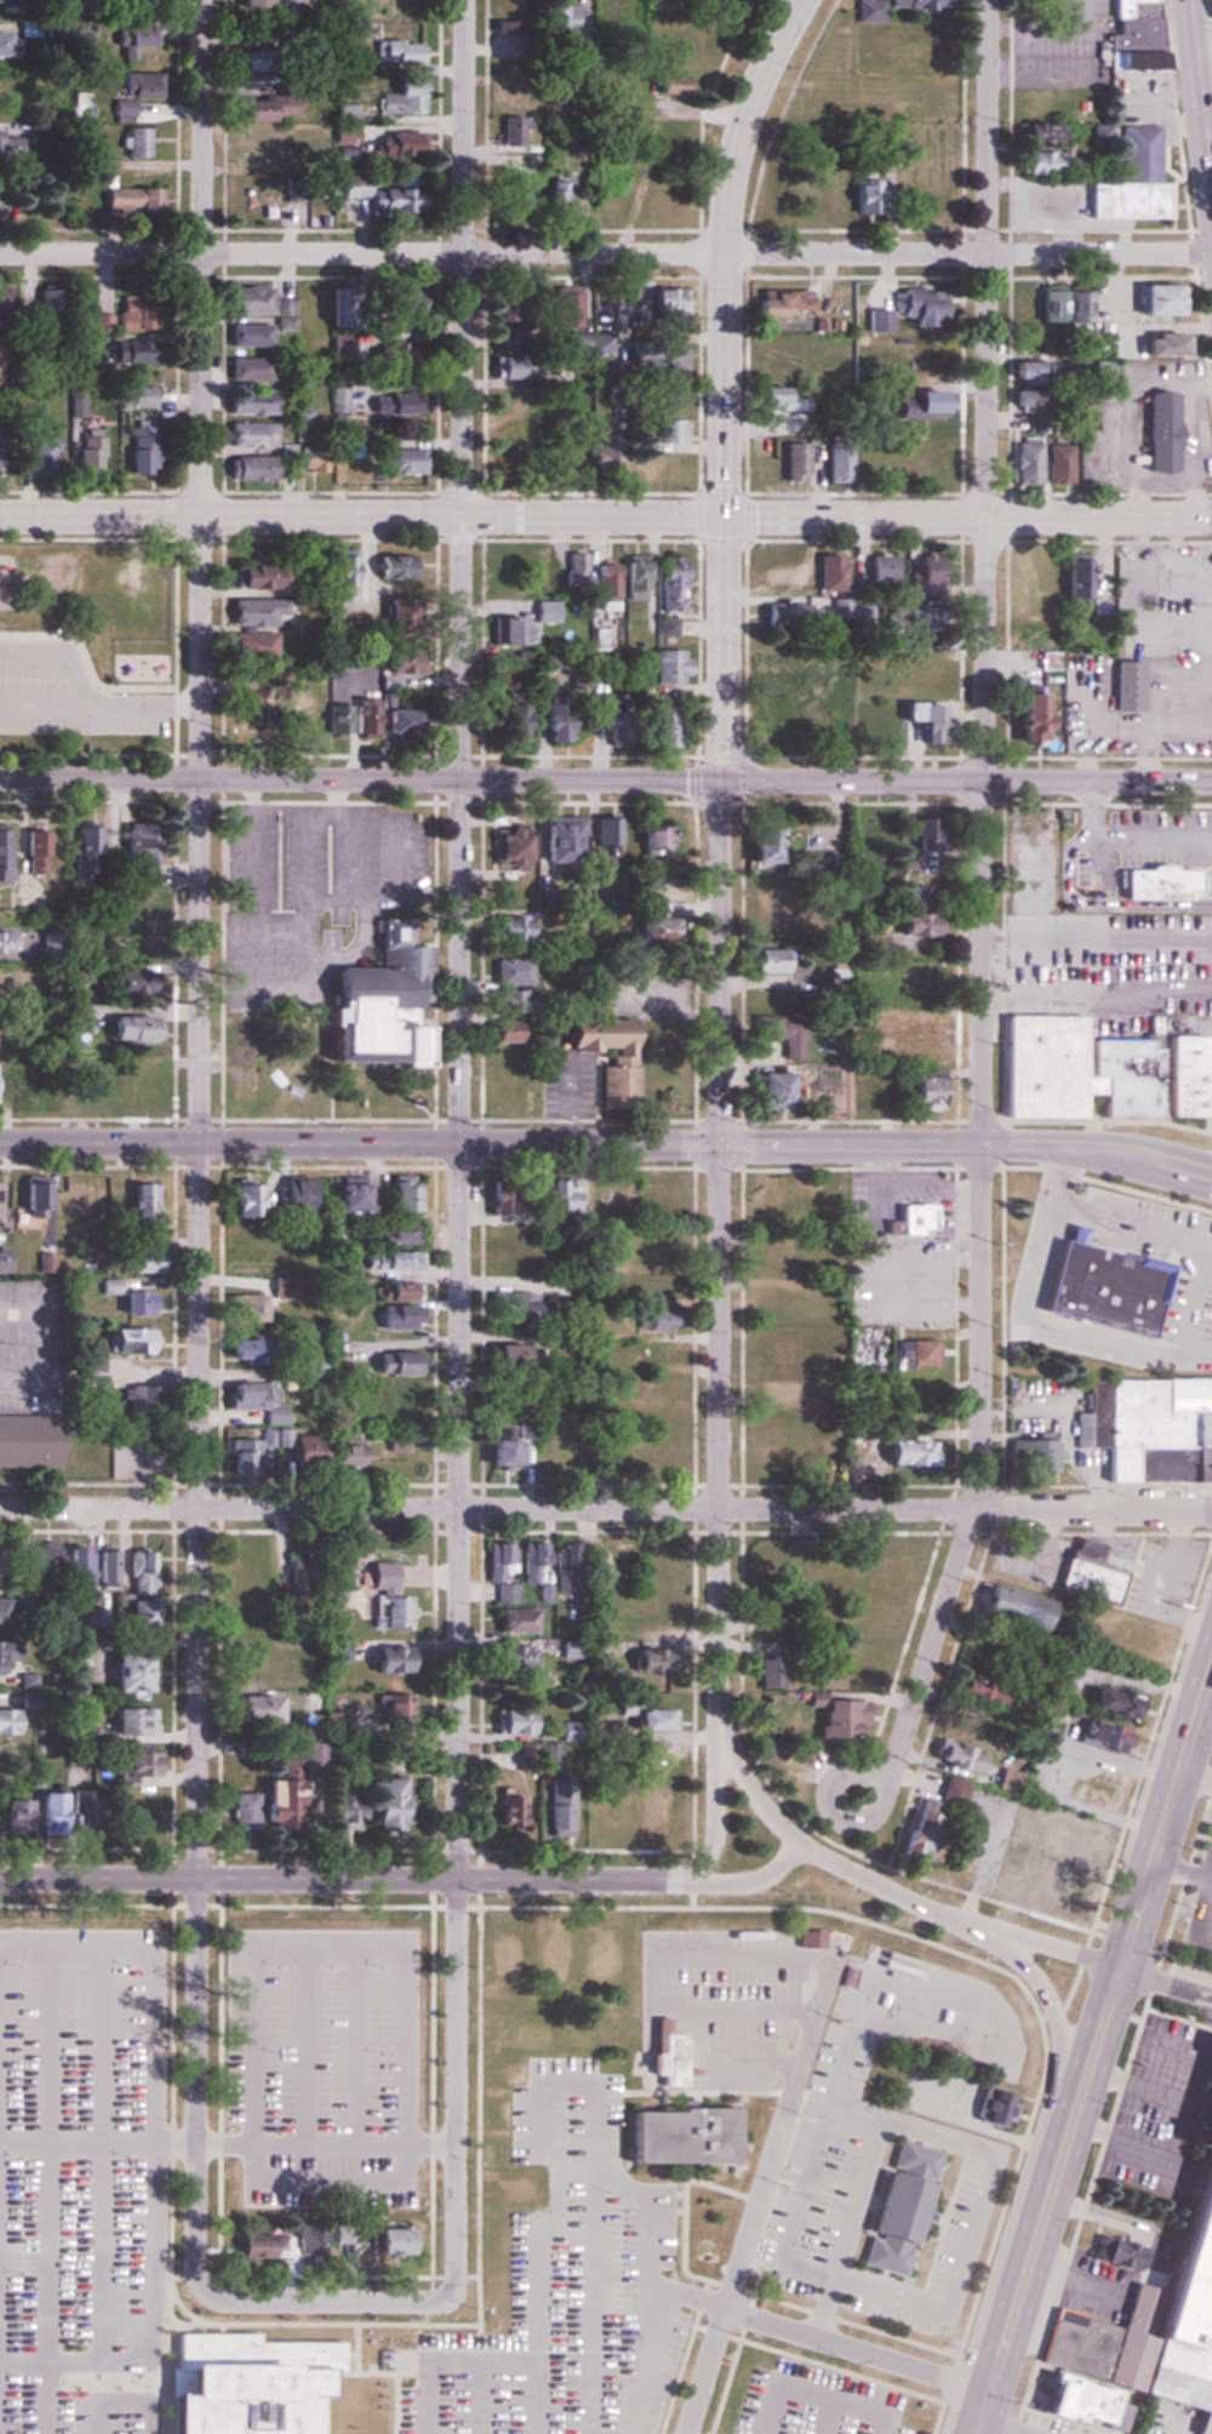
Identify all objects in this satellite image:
building: (7, 1)
building: (128, 2)
building: (1029, 2)
building: (251, 4)
building: (396, 4)
building: (341, 6)
building: (887, 7)
building: (1208, 10)
building: (558, 21)
building: (1132, 34)
building: (510, 39)
building: (131, 41)
building: (4, 46)
building: (908, 50)
building: (398, 52)
building: (669, 84)
building: (6, 87)
building: (136, 90)
building: (401, 98)
road: (1199, 98)
building: (521, 102)
building: (1031, 103)
building: (265, 108)
building: (514, 133)
building: (1039, 133)
building: (344, 135)
building: (133, 142)
building: (8, 147)
building: (394, 148)
building: (1137, 150)
building: (1037, 161)
building: (927, 189)
building: (560, 192)
building: (821, 192)
building: (513, 194)
building: (868, 195)
building: (385, 196)
building: (776, 199)
building: (4, 200)
building: (150, 200)
building: (1127, 200)
building: (118, 201)
road: (724, 251)
road: (606, 253)
building: (0, 297)
building: (1159, 298)
building: (248, 299)
building: (1024, 301)
building: (781, 302)
building: (1064, 303)
building: (308, 304)
building: (665, 304)
building: (917, 305)
building: (395, 307)
building: (567, 308)
building: (46, 309)
building: (502, 309)
building: (876, 320)
building: (102, 322)
building: (248, 335)
building: (1157, 343)
building: (781, 344)
building: (1029, 345)
building: (924, 350)
building: (128, 353)
building: (654, 353)
building: (390, 355)
building: (0, 368)
building: (248, 368)
building: (507, 371)
building: (1025, 383)
building: (141, 396)
building: (657, 396)
building: (779, 398)
building: (505, 399)
building: (247, 402)
building: (391, 402)
building: (914, 405)
building: (302, 410)
building: (667, 432)
building: (1157, 432)
building: (248, 435)
building: (524, 444)
building: (143, 448)
building: (86, 451)
building: (604, 456)
building: (310, 458)
building: (35, 459)
building: (1023, 461)
building: (355, 462)
building: (402, 462)
building: (793, 462)
building: (922, 462)
building: (1054, 463)
building: (837, 464)
building: (656, 465)
building: (247, 469)
building: (549, 472)
road: (362, 516)
road: (970, 519)
building: (539, 564)
building: (390, 566)
building: (574, 568)
building: (882, 568)
building: (344, 571)
building: (779, 573)
building: (828, 573)
building: (255, 576)
building: (924, 576)
building: (1068, 577)
building: (635, 578)
building: (1031, 578)
building: (607, 584)
building: (669, 584)
building: (1100, 604)
building: (782, 611)
building: (253, 612)
building: (907, 622)
building: (665, 628)
building: (514, 634)
building: (250, 645)
road: (724, 652)
building: (669, 665)
building: (905, 673)
building: (1125, 685)
road: (84, 698)
building: (365, 716)
building: (1027, 716)
building: (395, 718)
building: (554, 718)
building: (337, 720)
building: (830, 720)
building: (921, 720)
building: (307, 721)
building: (518, 726)
building: (664, 726)
building: (776, 731)
road: (360, 781)
road: (966, 785)
building: (608, 838)
building: (558, 840)
building: (652, 840)
building: (926, 841)
building: (759, 842)
building: (38, 846)
building: (86, 846)
building: (135, 847)
building: (508, 847)
building: (4, 856)
building: (1156, 882)
road: (974, 892)
building: (658, 896)
building: (914, 897)
building: (915, 925)
building: (508, 930)
building: (651, 931)
building: (120, 935)
building: (8, 943)
building: (877, 945)
building: (46, 949)
building: (772, 962)
road: (720, 966)
building: (513, 971)
building: (915, 983)
building: (132, 984)
building: (11, 985)
building: (773, 1000)
building: (377, 1009)
building: (508, 1016)
building: (76, 1019)
building: (128, 1029)
building: (779, 1033)
building: (916, 1034)
building: (621, 1063)
building: (1094, 1072)
building: (238, 1084)
building: (766, 1090)
building: (840, 1090)
building: (288, 1091)
building: (502, 1092)
building: (921, 1093)
road: (360, 1144)
road: (967, 1145)
road: (199, 1152)
road: (461, 1152)
building: (347, 1193)
building: (398, 1194)
building: (80, 1198)
building: (556, 1198)
building: (661, 1198)
building: (822, 1198)
building: (29, 1199)
building: (292, 1199)
building: (245, 1200)
building: (142, 1209)
road: (1105, 1213)
building: (919, 1219)
building: (396, 1235)
building: (521, 1253)
building: (393, 1261)
road: (1036, 1261)
building: (139, 1262)
building: (0, 1263)
building: (248, 1263)
building: (1100, 1286)
building: (388, 1292)
road: (1191, 1296)
building: (133, 1303)
building: (510, 1307)
building: (245, 1308)
building: (656, 1320)
building: (122, 1341)
building: (777, 1345)
road: (1119, 1345)
building: (247, 1349)
building: (919, 1352)
building: (502, 1354)
building: (394, 1364)
building: (314, 1366)
building: (651, 1388)
building: (250, 1394)
road: (720, 1417)
building: (399, 1418)
building: (1148, 1427)
building: (22, 1445)
building: (499, 1445)
building: (304, 1449)
building: (907, 1450)
building: (1028, 1452)
building: (241, 1453)
building: (349, 1455)
building: (85, 1459)
building: (755, 1459)
road: (606, 1509)
building: (760, 1555)
building: (78, 1562)
building: (528, 1565)
building: (36, 1566)
building: (104, 1567)
building: (612, 1567)
building: (136, 1569)
building: (502, 1571)
building: (561, 1571)
building: (245, 1572)
building: (661, 1572)
building: (1087, 1572)
building: (299, 1576)
building: (342, 1599)
building: (875, 1601)
building: (1014, 1607)
building: (0, 1612)
building: (391, 1612)
building: (135, 1615)
building: (514, 1621)
building: (647, 1622)
building: (571, 1649)
building: (2, 1657)
building: (387, 1658)
building: (507, 1658)
building: (263, 1661)
building: (646, 1661)
building: (850, 1664)
building: (770, 1672)
building: (126, 1673)
building: (977, 1690)
building: (1110, 1702)
building: (253, 1707)
building: (395, 1713)
building: (646, 1714)
building: (827, 1714)
building: (128, 1720)
building: (8, 1721)
building: (513, 1721)
building: (570, 1731)
building: (1100, 1737)
building: (961, 1756)
building: (526, 1758)
building: (133, 1762)
road: (747, 1773)
building: (1006, 1779)
road: (715, 1790)
building: (1091, 1792)
building: (950, 1794)
building: (132, 1802)
building: (385, 1804)
building: (647, 1804)
building: (264, 1805)
building: (558, 1807)
building: (508, 1810)
building: (45, 1811)
road: (830, 1811)
building: (342, 1813)
building: (12, 1816)
building: (607, 1817)
road: (1165, 1819)
building: (916, 1829)
building: (1079, 1840)
road: (341, 1880)
road: (748, 1880)
road: (881, 1882)
building: (5, 1935)
building: (335, 1937)
building: (401, 1937)
building: (296, 1938)
building: (807, 1938)
building: (78, 1943)
road: (1039, 1944)
building: (497, 1947)
building: (39, 1949)
building: (604, 1960)
road: (653, 1972)
road: (909, 1976)
road: (1165, 1984)
parking lot: (728, 1998)
road: (1053, 2013)
building: (661, 2058)
road: (1091, 2059)
road: (755, 2064)
building: (993, 2109)
building: (333, 2114)
building: (384, 2121)
road: (782, 2121)
road: (541, 2122)
road: (854, 2125)
road: (1177, 2130)
building: (686, 2135)
road: (965, 2143)
parking lot: (892, 2152)
building: (258, 2154)
building: (513, 2189)
road: (122, 2199)
building: (884, 2200)
road: (651, 2215)
building: (307, 2240)
building: (389, 2240)
road: (22, 2245)
road: (70, 2245)
building: (259, 2245)
road: (789, 2246)
building: (1114, 2255)
road: (1074, 2281)
road: (1019, 2291)
road: (325, 2303)
parking lot: (530, 2303)
building: (1157, 2303)
parking lot: (115, 2329)
road: (653, 2330)
road: (44, 2338)
road: (857, 2350)
road: (142, 2361)
road: (353, 2361)
road: (705, 2371)
road: (814, 2396)
road: (201, 2398)
road: (255, 2398)
road: (307, 2398)
road: (364, 2398)
road: (479, 2398)
road: (533, 2398)
building: (1075, 2401)
parking lot: (814, 2402)
road: (825, 2417)
road: (996, 2428)

